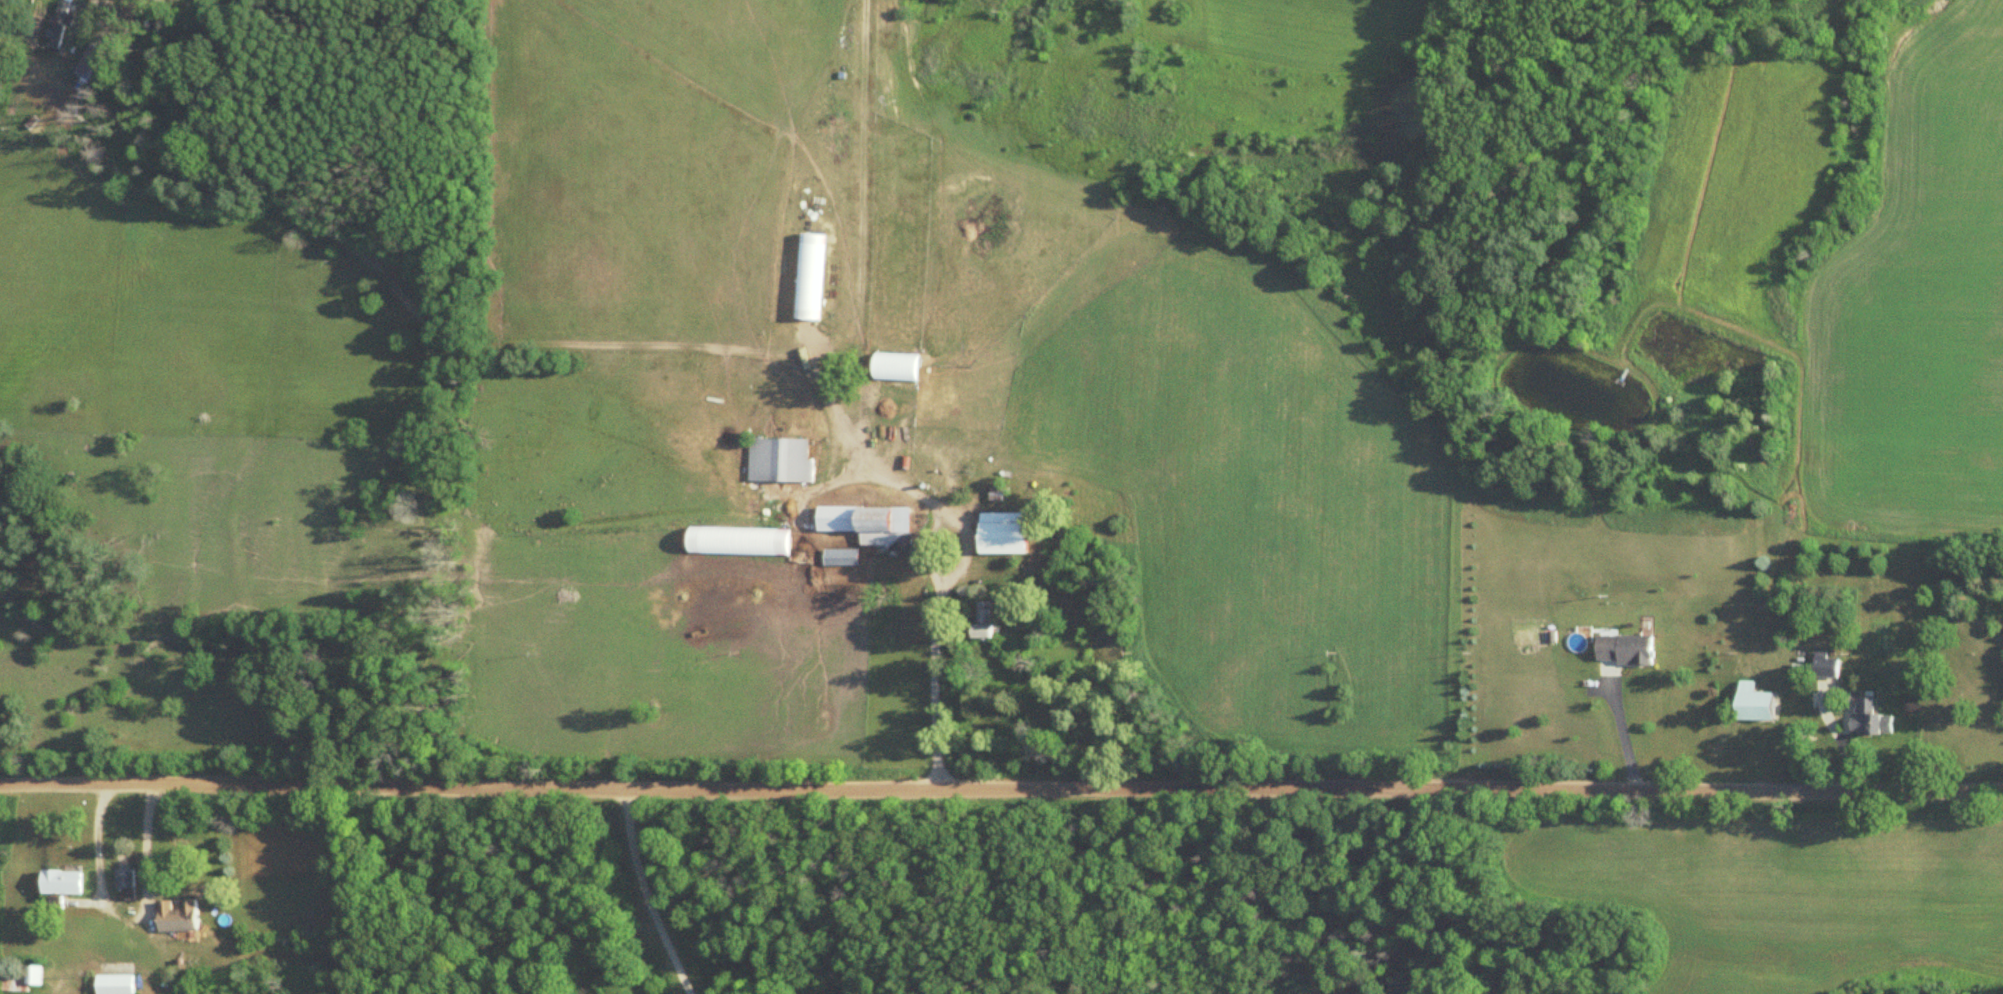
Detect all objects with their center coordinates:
building: (60, 24)
building: (92, 63)
building: (811, 276)
crop: (1915, 310)
building: (902, 368)
building: (781, 460)
building: (865, 524)
building: (1008, 533)
building: (765, 541)
building: (844, 557)
building: (987, 624)
building: (1626, 648)
building: (1826, 666)
building: (1760, 703)
building: (1872, 720)
road: (1001, 785)
road: (144, 853)
building: (127, 877)
building: (64, 881)
building: (181, 915)
building: (26, 976)
building: (119, 983)

